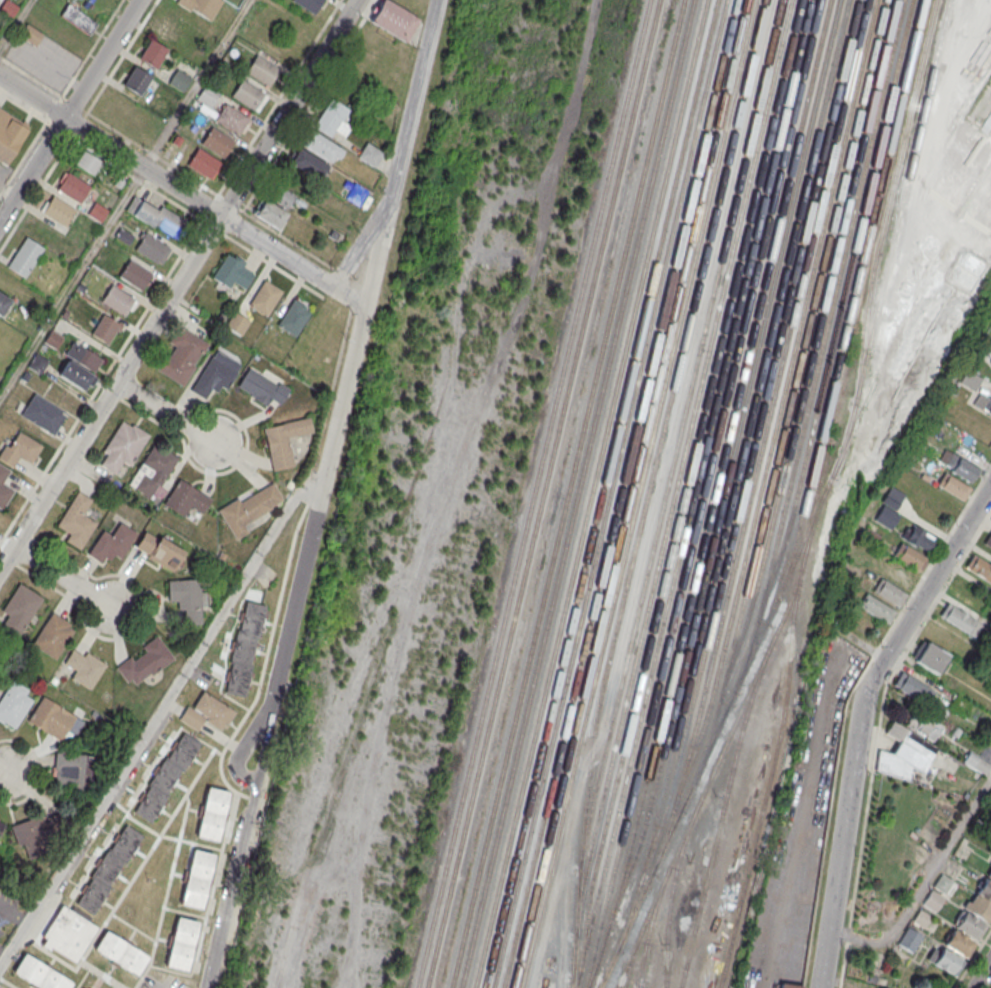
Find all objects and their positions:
building: (308, 4)
building: (201, 7)
building: (78, 21)
building: (394, 22)
road: (16, 26)
building: (169, 28)
building: (30, 35)
road: (92, 48)
building: (153, 55)
parking lot: (44, 62)
building: (262, 71)
building: (137, 82)
building: (179, 82)
road: (197, 84)
building: (249, 96)
building: (206, 97)
road: (309, 106)
road: (70, 111)
building: (332, 117)
building: (232, 119)
road: (46, 122)
building: (9, 137)
building: (217, 143)
building: (320, 148)
building: (370, 155)
building: (87, 162)
building: (204, 163)
road: (238, 163)
building: (308, 163)
building: (72, 186)
road: (181, 192)
building: (356, 194)
building: (282, 196)
building: (57, 210)
building: (97, 212)
building: (271, 214)
building: (154, 215)
road: (359, 229)
building: (152, 250)
building: (25, 259)
building: (232, 274)
building: (136, 277)
building: (8, 282)
road: (72, 283)
road: (178, 284)
railway: (850, 298)
building: (265, 300)
building: (118, 302)
building: (3, 303)
building: (293, 320)
road: (139, 321)
railway: (834, 321)
building: (106, 329)
railway: (820, 343)
building: (180, 356)
building: (37, 364)
building: (79, 366)
railway: (805, 366)
building: (215, 376)
railway: (791, 388)
building: (262, 389)
building: (983, 404)
railway: (775, 411)
road: (167, 412)
building: (43, 416)
railway: (677, 433)
railway: (760, 437)
railway: (751, 442)
building: (284, 443)
building: (123, 448)
building: (20, 452)
railway: (728, 461)
railway: (679, 465)
building: (957, 465)
building: (152, 472)
railway: (734, 475)
building: (953, 486)
railway: (682, 487)
building: (4, 489)
railway: (646, 490)
road: (319, 493)
railway: (531, 493)
railway: (689, 493)
railway: (540, 494)
railway: (564, 494)
railway: (574, 494)
railway: (589, 494)
railway: (598, 494)
railway: (607, 494)
railway: (616, 494)
railway: (626, 494)
railway: (635, 494)
railway: (699, 494)
railway: (711, 495)
building: (186, 500)
building: (889, 507)
building: (248, 511)
railway: (811, 516)
building: (76, 520)
building: (869, 536)
building: (919, 537)
building: (988, 540)
building: (111, 543)
building: (159, 549)
building: (910, 556)
building: (980, 567)
building: (900, 574)
road: (63, 577)
building: (889, 592)
building: (187, 598)
building: (877, 608)
building: (19, 609)
building: (960, 619)
building: (53, 635)
building: (245, 648)
building: (931, 657)
building: (145, 661)
building: (83, 667)
building: (913, 687)
building: (14, 703)
road: (157, 710)
building: (207, 712)
building: (53, 720)
road: (859, 721)
building: (925, 725)
railway: (775, 738)
building: (905, 753)
building: (977, 763)
railway: (712, 767)
road: (37, 770)
road: (6, 772)
building: (73, 774)
building: (166, 776)
railway: (326, 799)
building: (212, 813)
railway: (718, 815)
building: (42, 833)
building: (108, 868)
building: (989, 873)
building: (196, 878)
road: (922, 882)
building: (943, 884)
building: (985, 889)
railway: (669, 891)
building: (932, 901)
building: (980, 908)
building: (925, 921)
railway: (647, 925)
building: (970, 925)
building: (68, 933)
building: (909, 940)
building: (959, 943)
building: (180, 944)
building: (121, 952)
railway: (631, 952)
railway: (640, 961)
building: (948, 962)
building: (39, 973)
road: (981, 973)
building: (873, 974)
road: (764, 985)
building: (788, 985)

